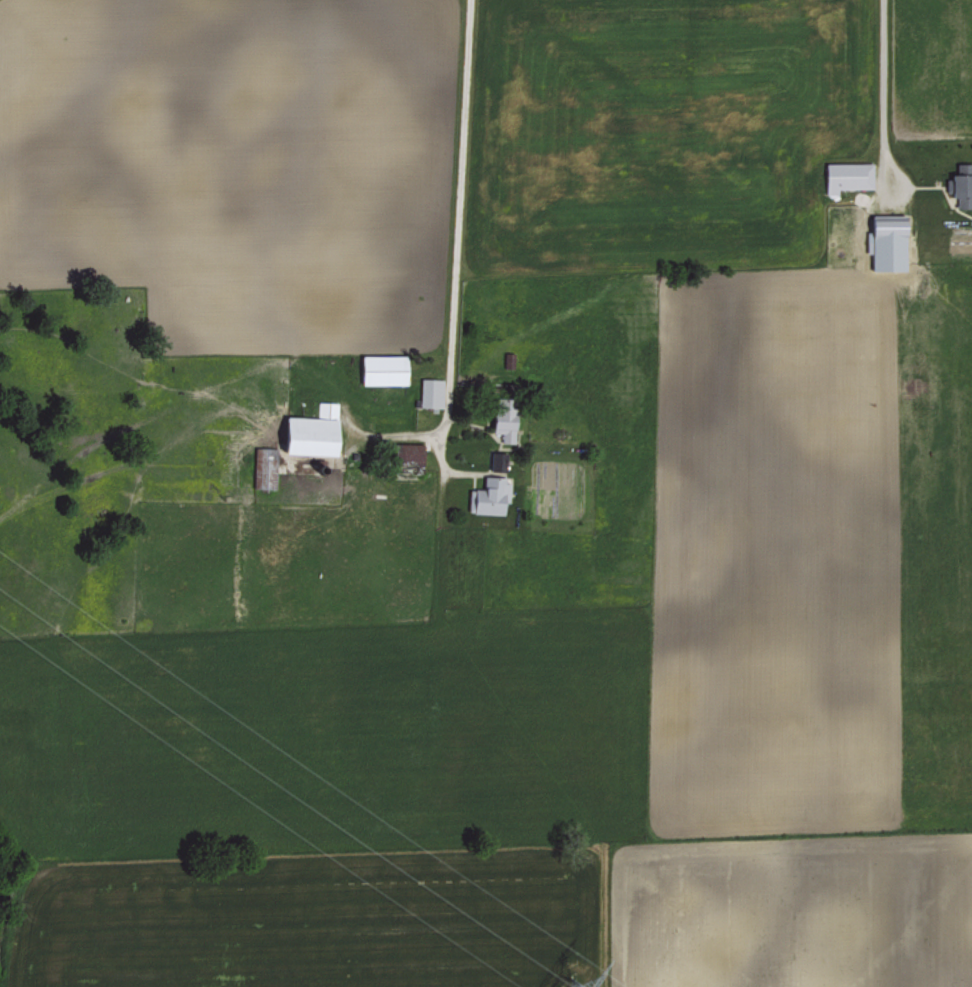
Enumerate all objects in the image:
road: (881, 85)
building: (847, 175)
building: (961, 184)
building: (887, 225)
road: (455, 259)
building: (382, 368)
building: (430, 391)
building: (503, 417)
building: (310, 431)
building: (407, 456)
building: (496, 459)
building: (264, 467)
building: (490, 494)

